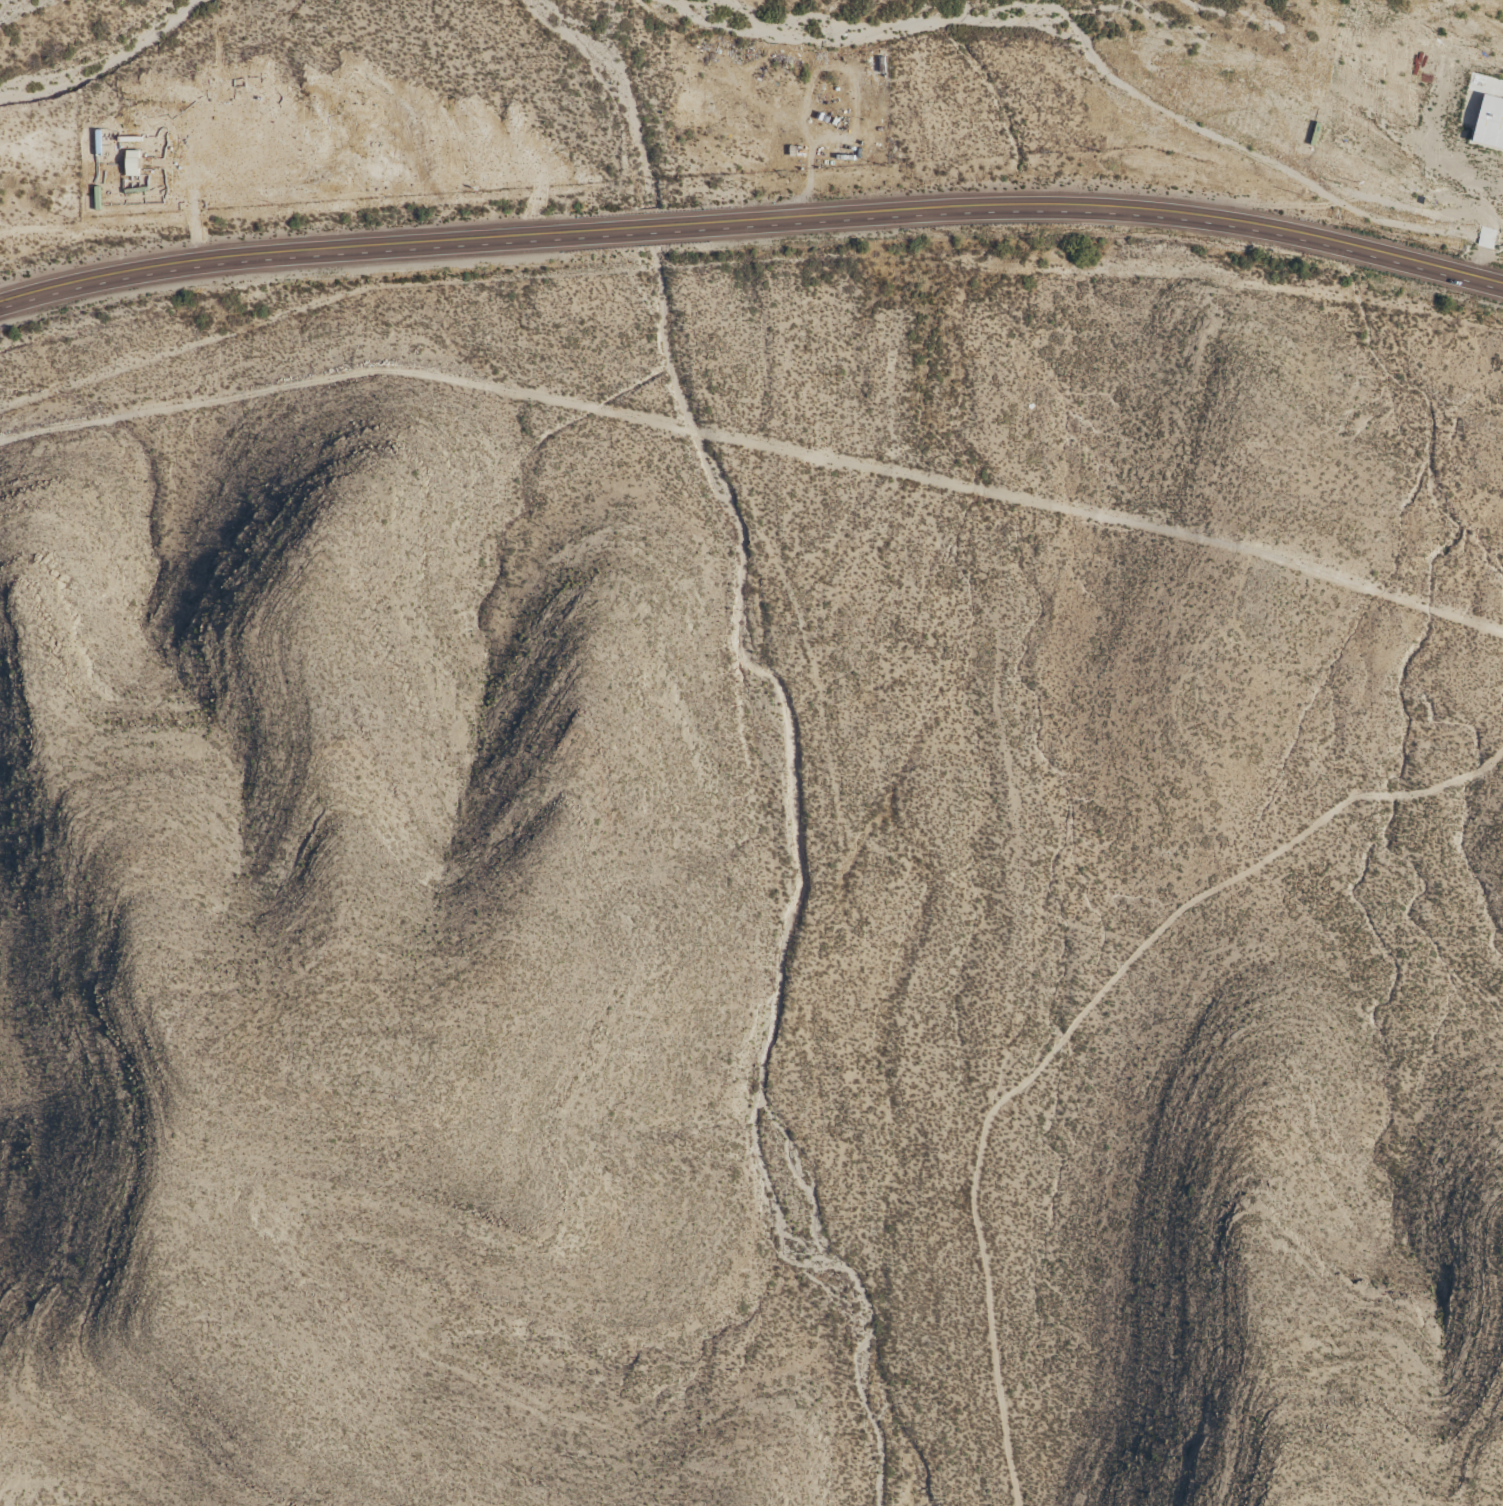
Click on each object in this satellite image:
building: (1488, 125)
road: (1483, 220)
road: (753, 221)
road: (755, 447)

